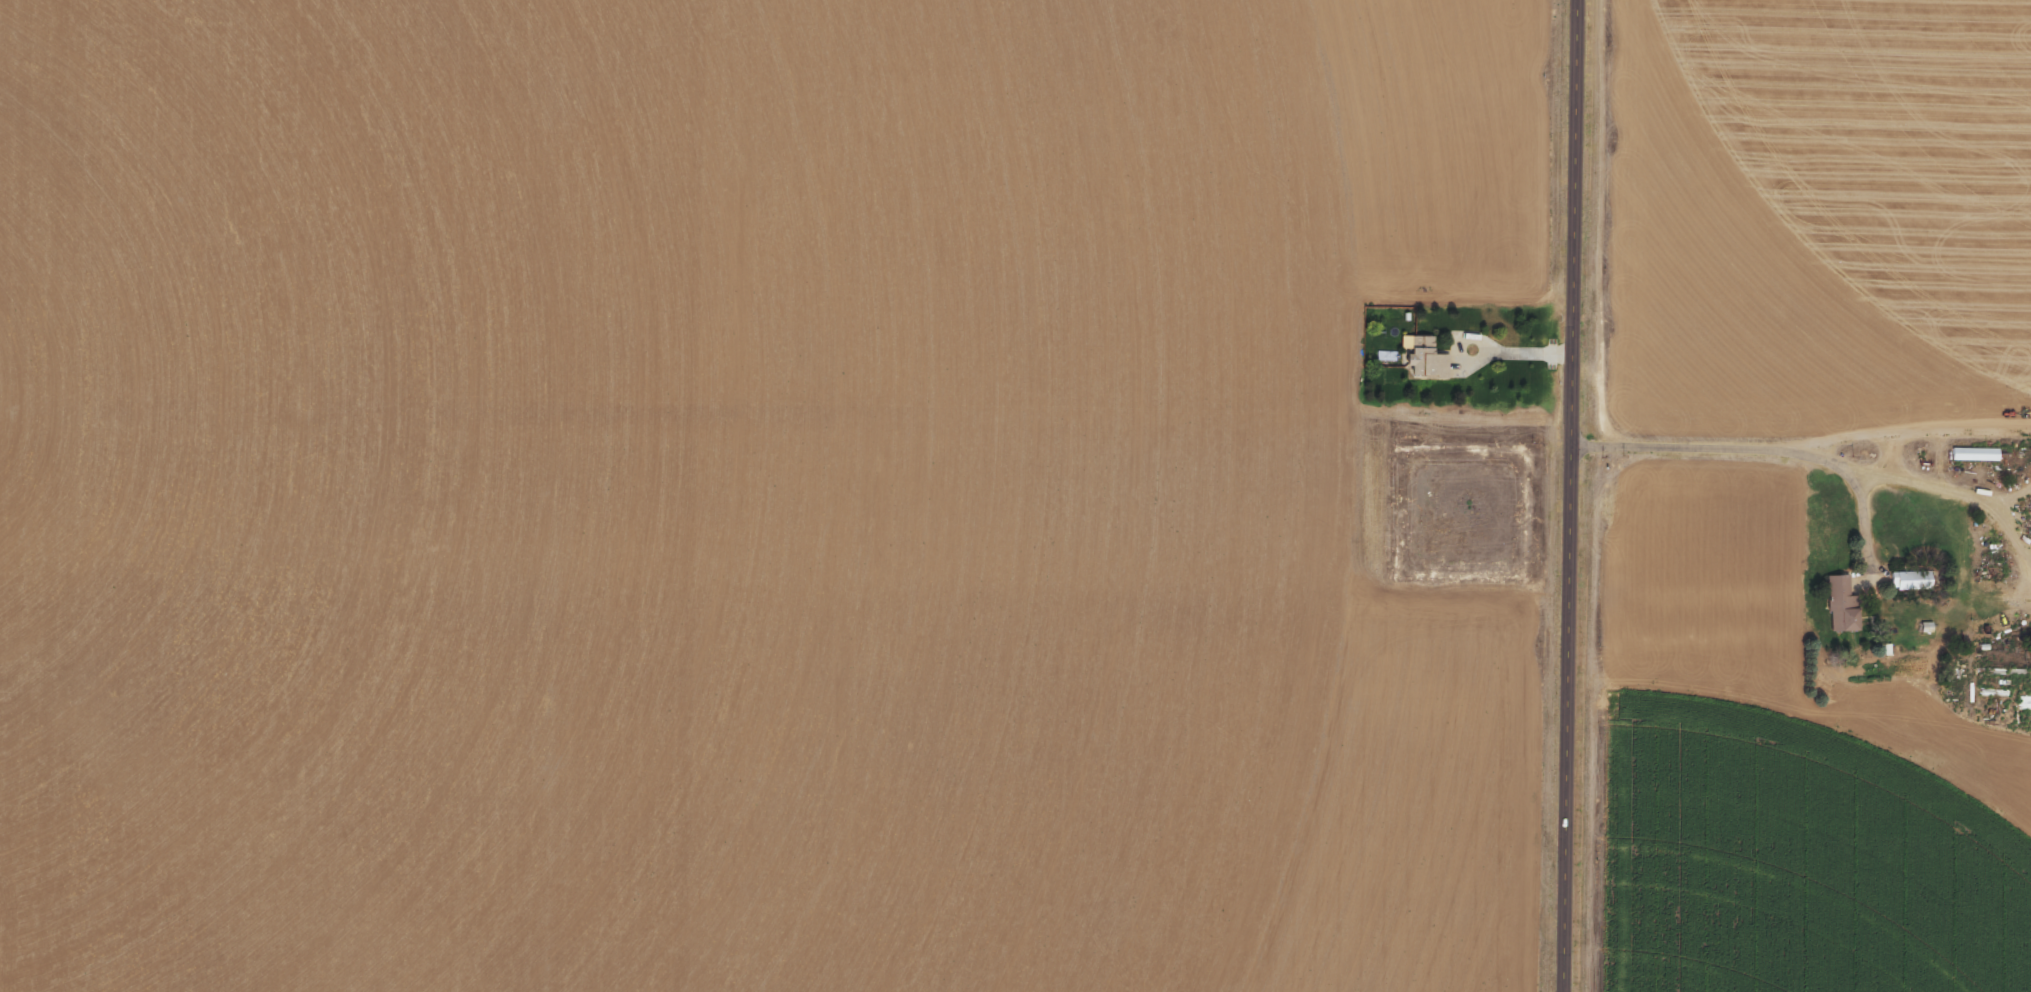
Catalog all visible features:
road: (1758, 449)
building: (1976, 453)
road: (1574, 496)
building: (1838, 590)

